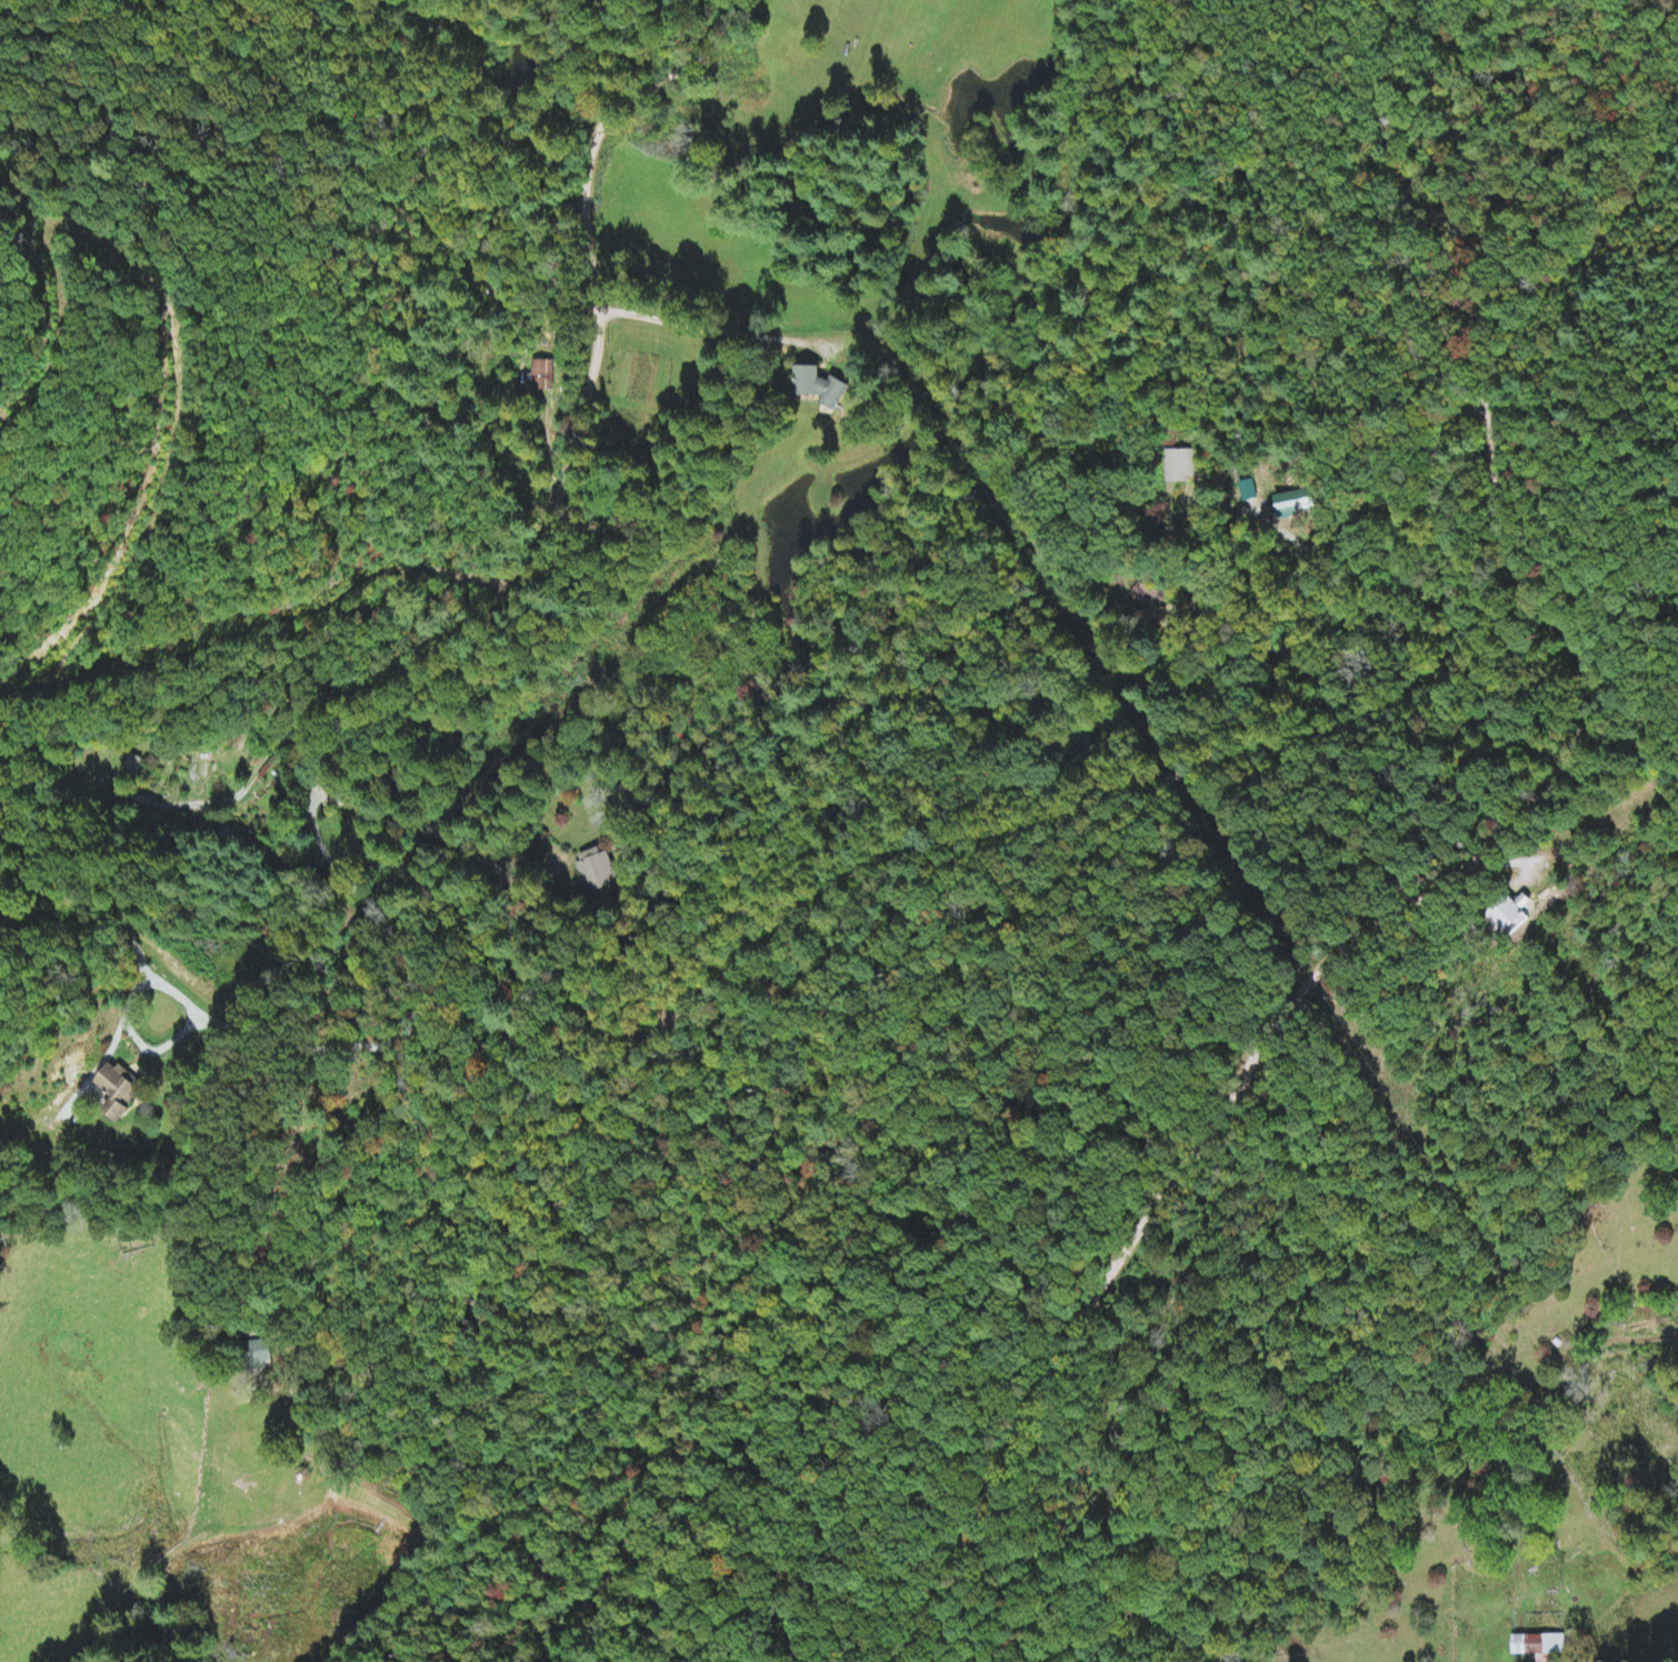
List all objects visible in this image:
road: (1544, 287)
building: (543, 377)
building: (823, 390)
road: (523, 394)
road: (1291, 475)
building: (1297, 505)
road: (1557, 682)
road: (915, 724)
building: (598, 872)
road: (867, 884)
building: (122, 1092)
road: (498, 1105)
road: (1131, 1224)
building: (263, 1354)
building: (1540, 1646)

